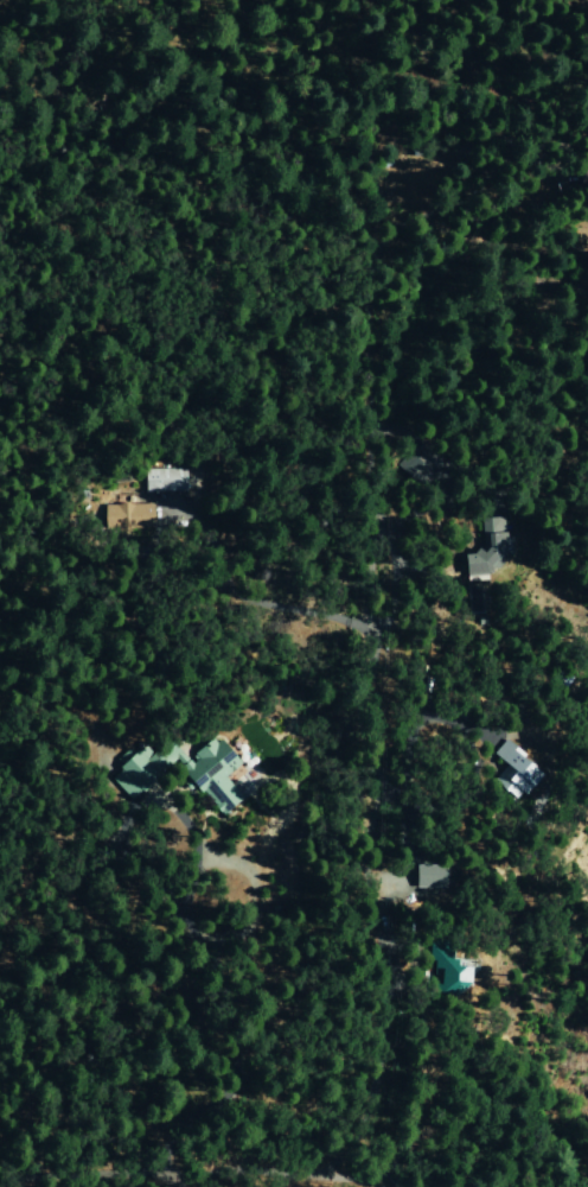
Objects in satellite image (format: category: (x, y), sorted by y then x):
road: (21, 26)
building: (164, 480)
building: (127, 516)
building: (487, 548)
building: (181, 772)
building: (512, 772)
building: (428, 877)
road: (373, 920)
building: (447, 969)

